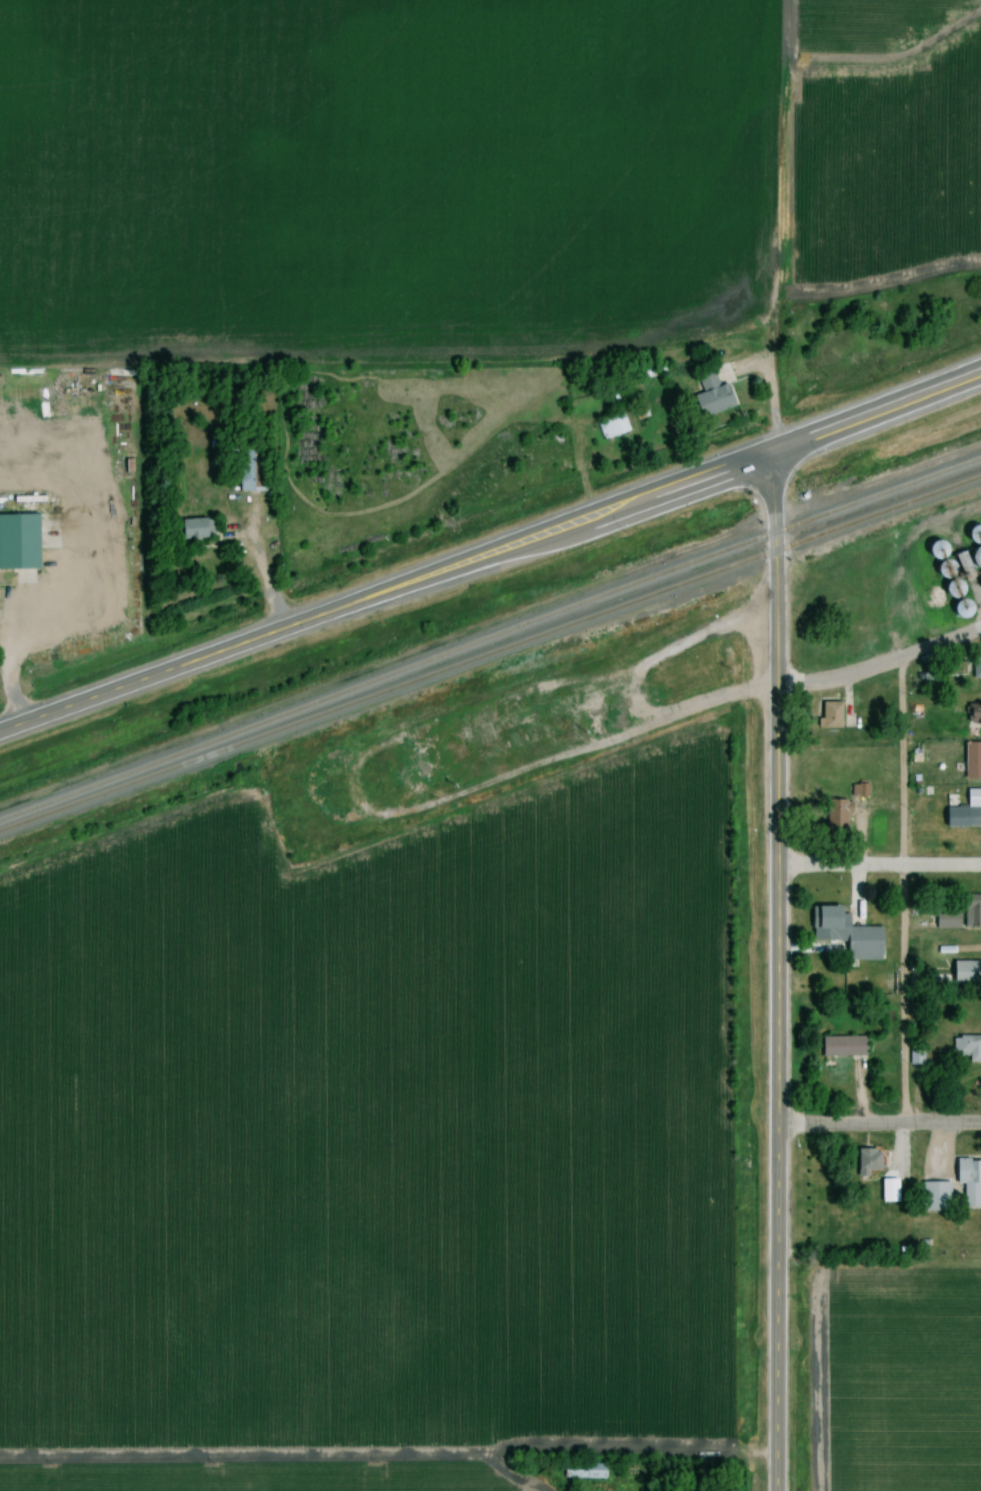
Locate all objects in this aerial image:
crop: (892, 162)
building: (717, 395)
building: (618, 427)
building: (252, 476)
building: (202, 530)
building: (19, 539)
road: (491, 554)
railway: (490, 638)
railway: (490, 654)
road: (881, 664)
building: (978, 668)
building: (978, 713)
building: (835, 715)
building: (605, 720)
building: (975, 760)
road: (347, 786)
building: (862, 791)
building: (965, 817)
building: (841, 818)
road: (881, 866)
road: (900, 891)
building: (975, 908)
building: (834, 918)
building: (870, 944)
building: (942, 952)
road: (781, 971)
building: (968, 972)
building: (849, 1047)
building: (969, 1047)
road: (880, 1123)
crop: (371, 1140)
building: (971, 1181)
building: (938, 1197)
crop: (907, 1381)
building: (590, 1472)

